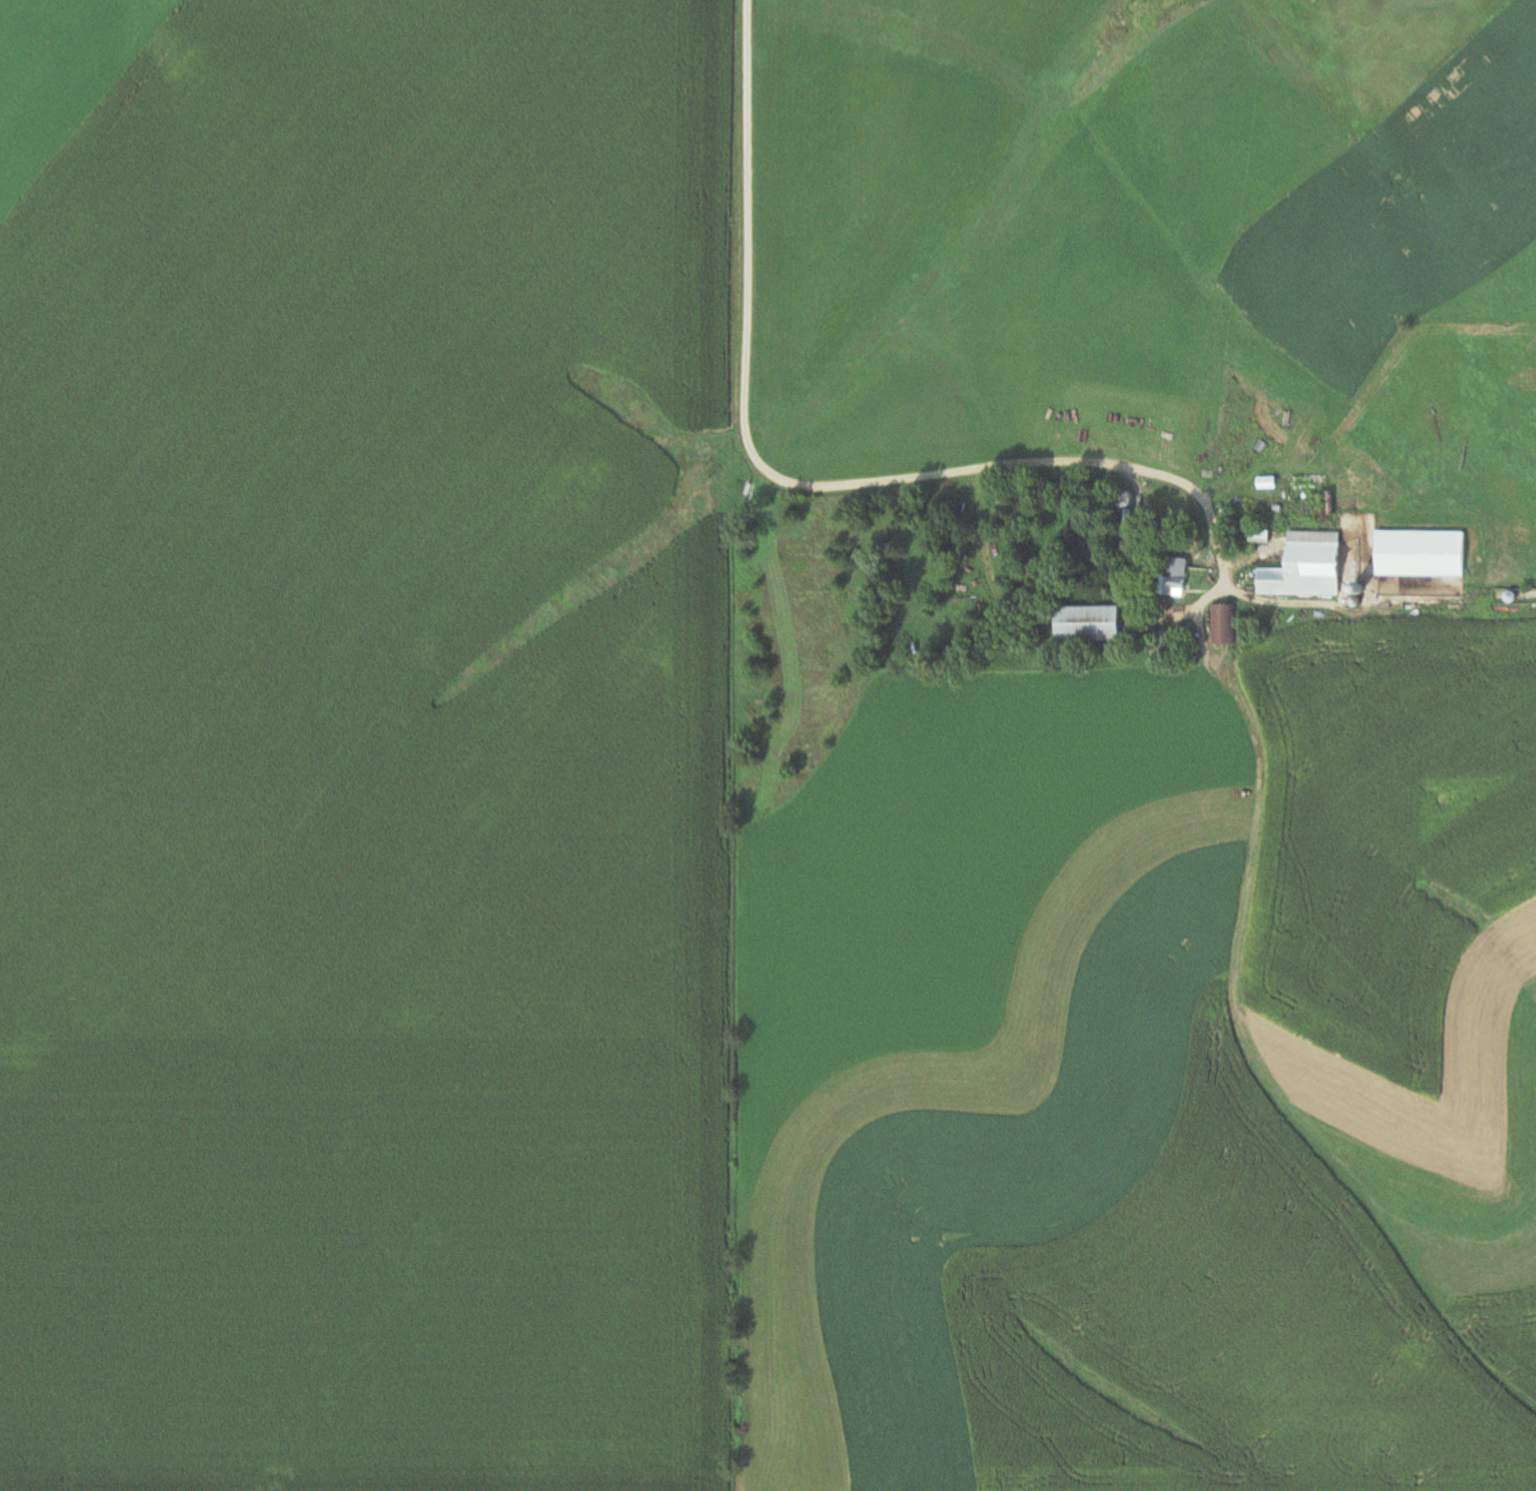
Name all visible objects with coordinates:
building: (1308, 482)
road: (795, 485)
building: (1421, 553)
building: (1307, 566)
building: (1176, 586)
building: (1088, 623)
building: (1227, 624)

